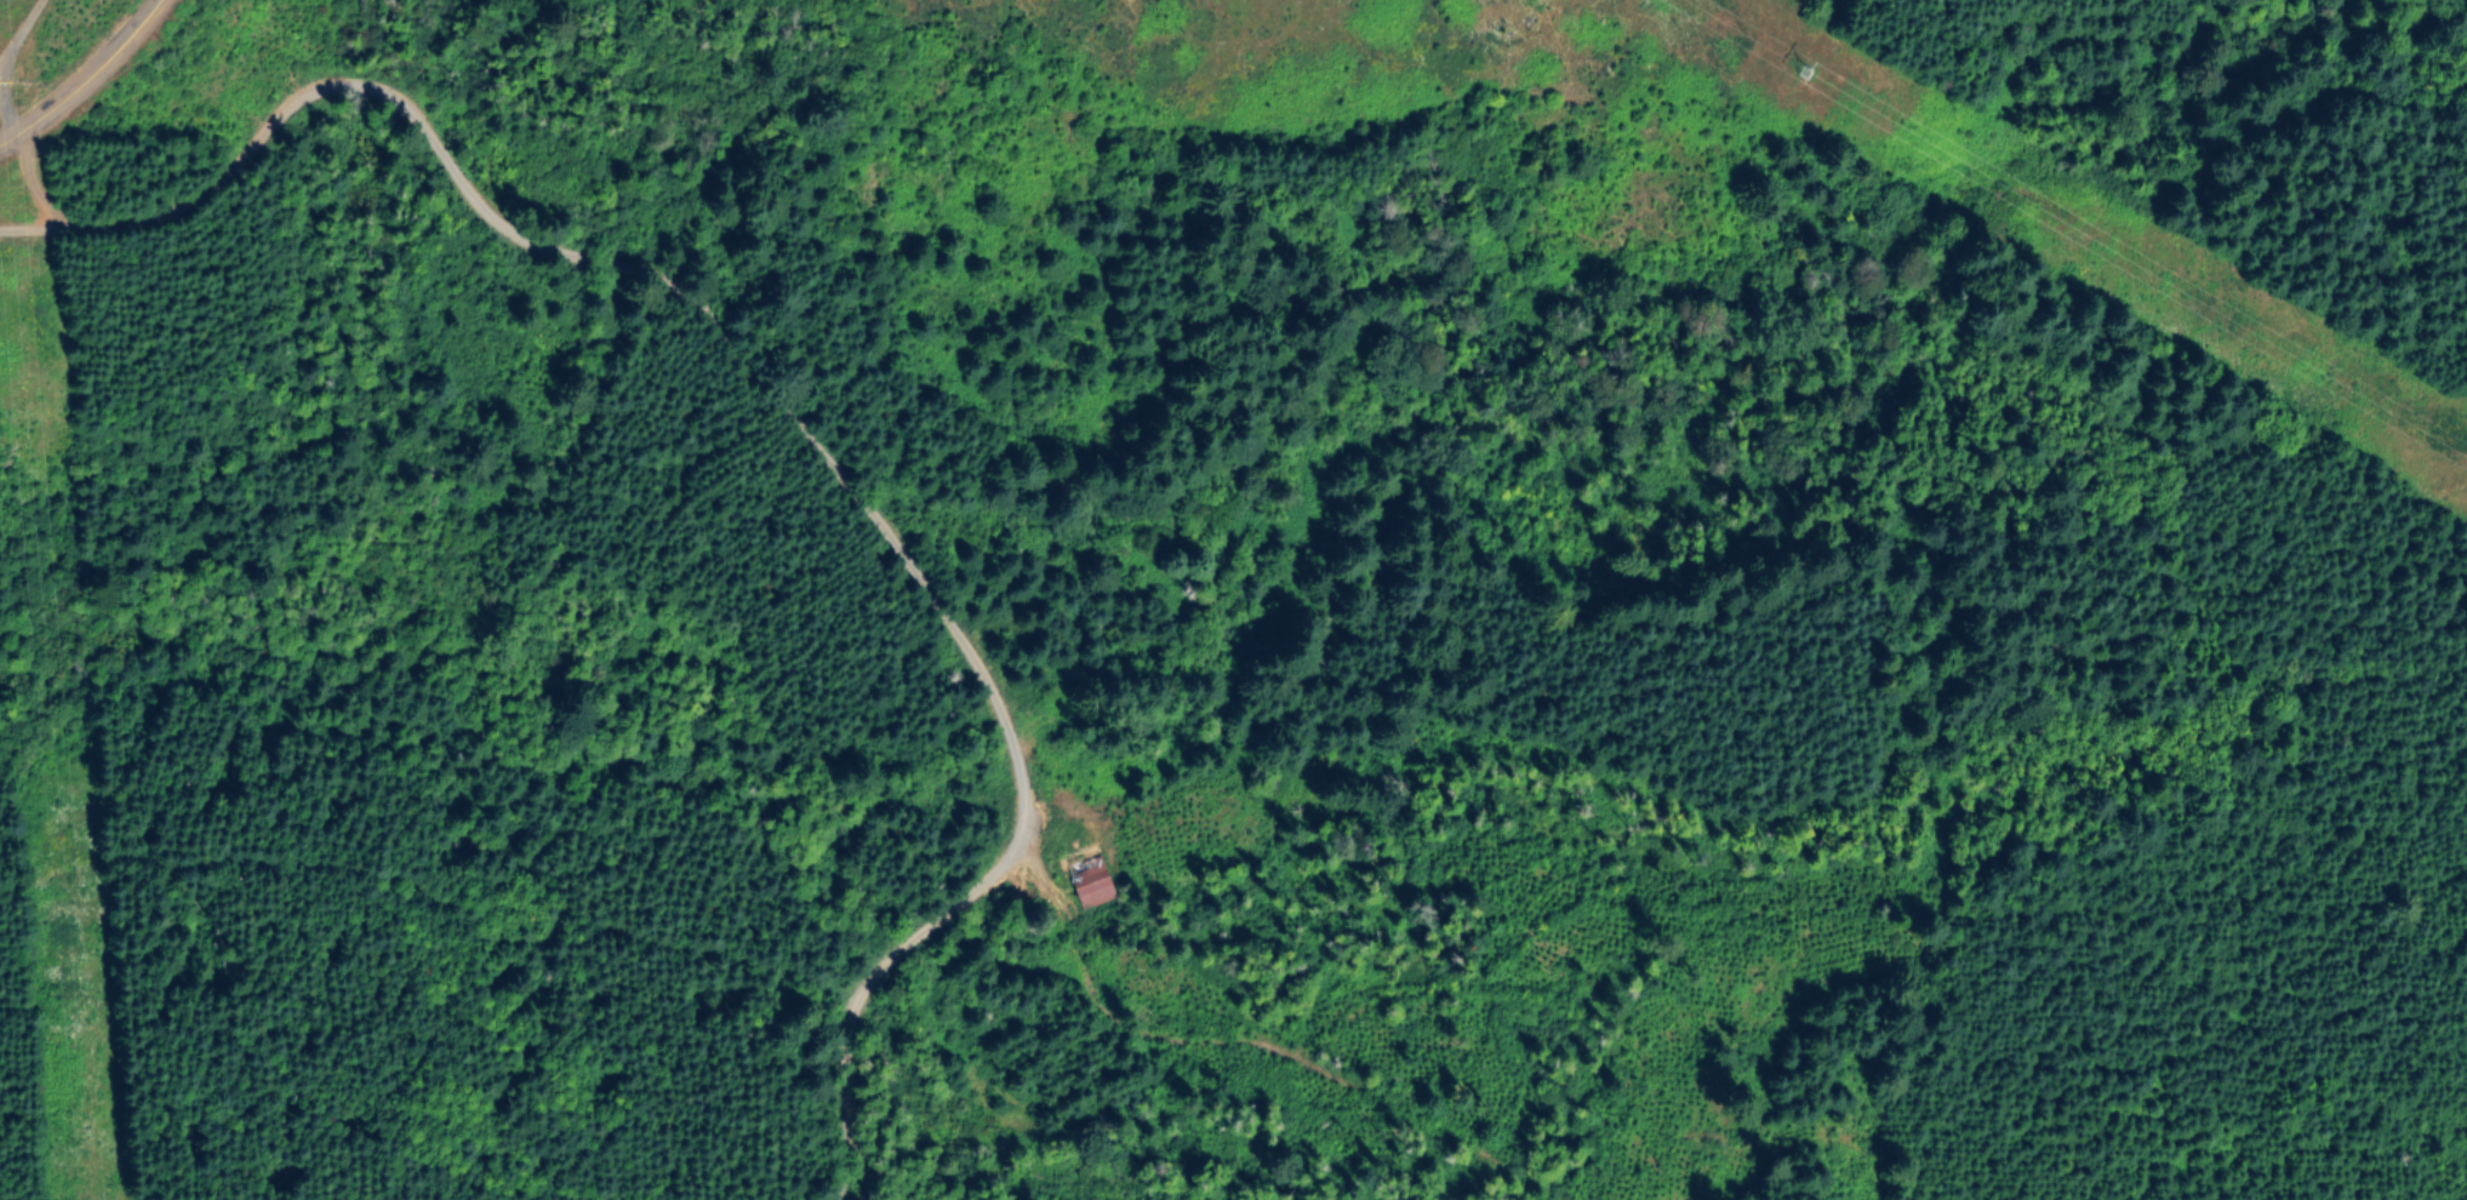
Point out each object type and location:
power tower: (1797, 67)
road: (81, 75)
road: (12, 109)
road: (878, 487)
road: (1245, 735)
road: (952, 1013)

